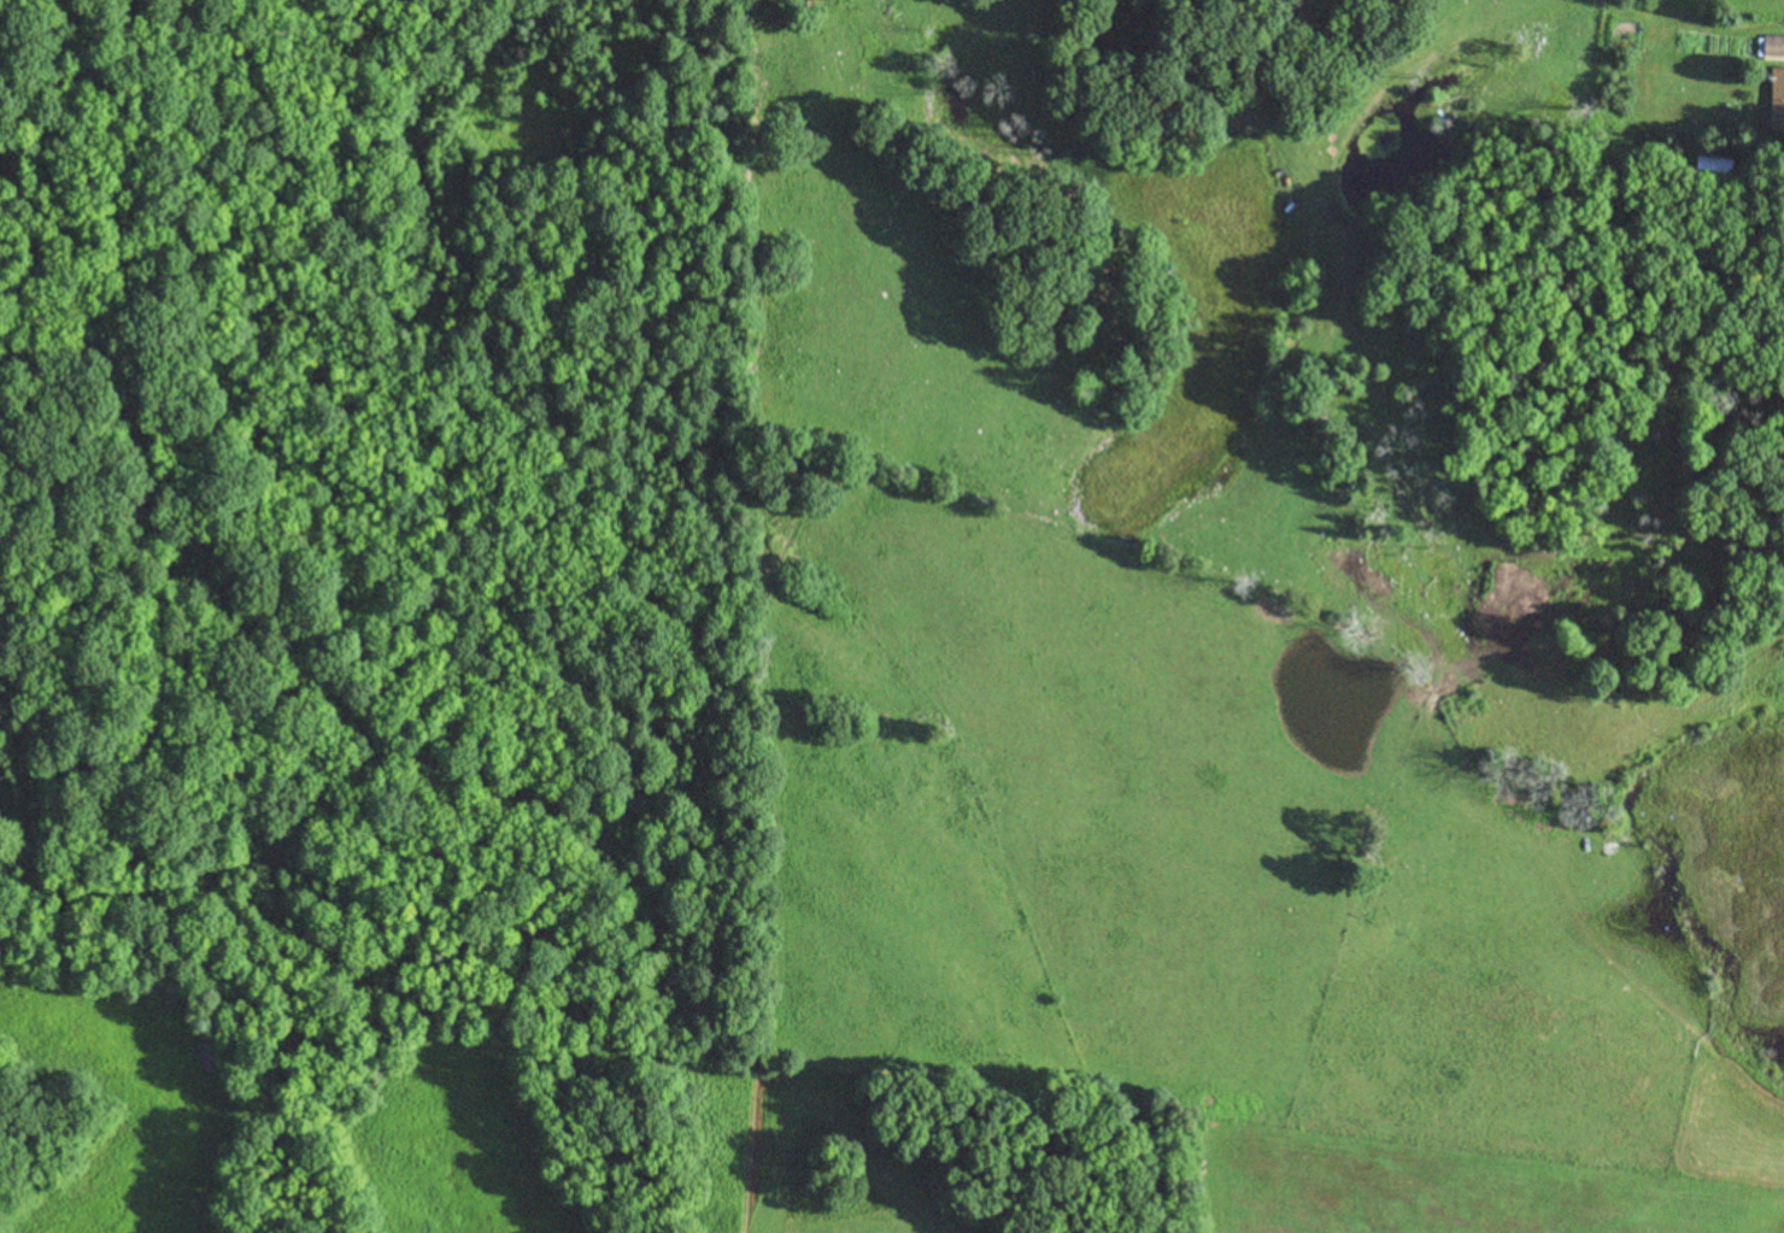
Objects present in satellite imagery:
building: (1772, 48)
building: (1776, 95)

